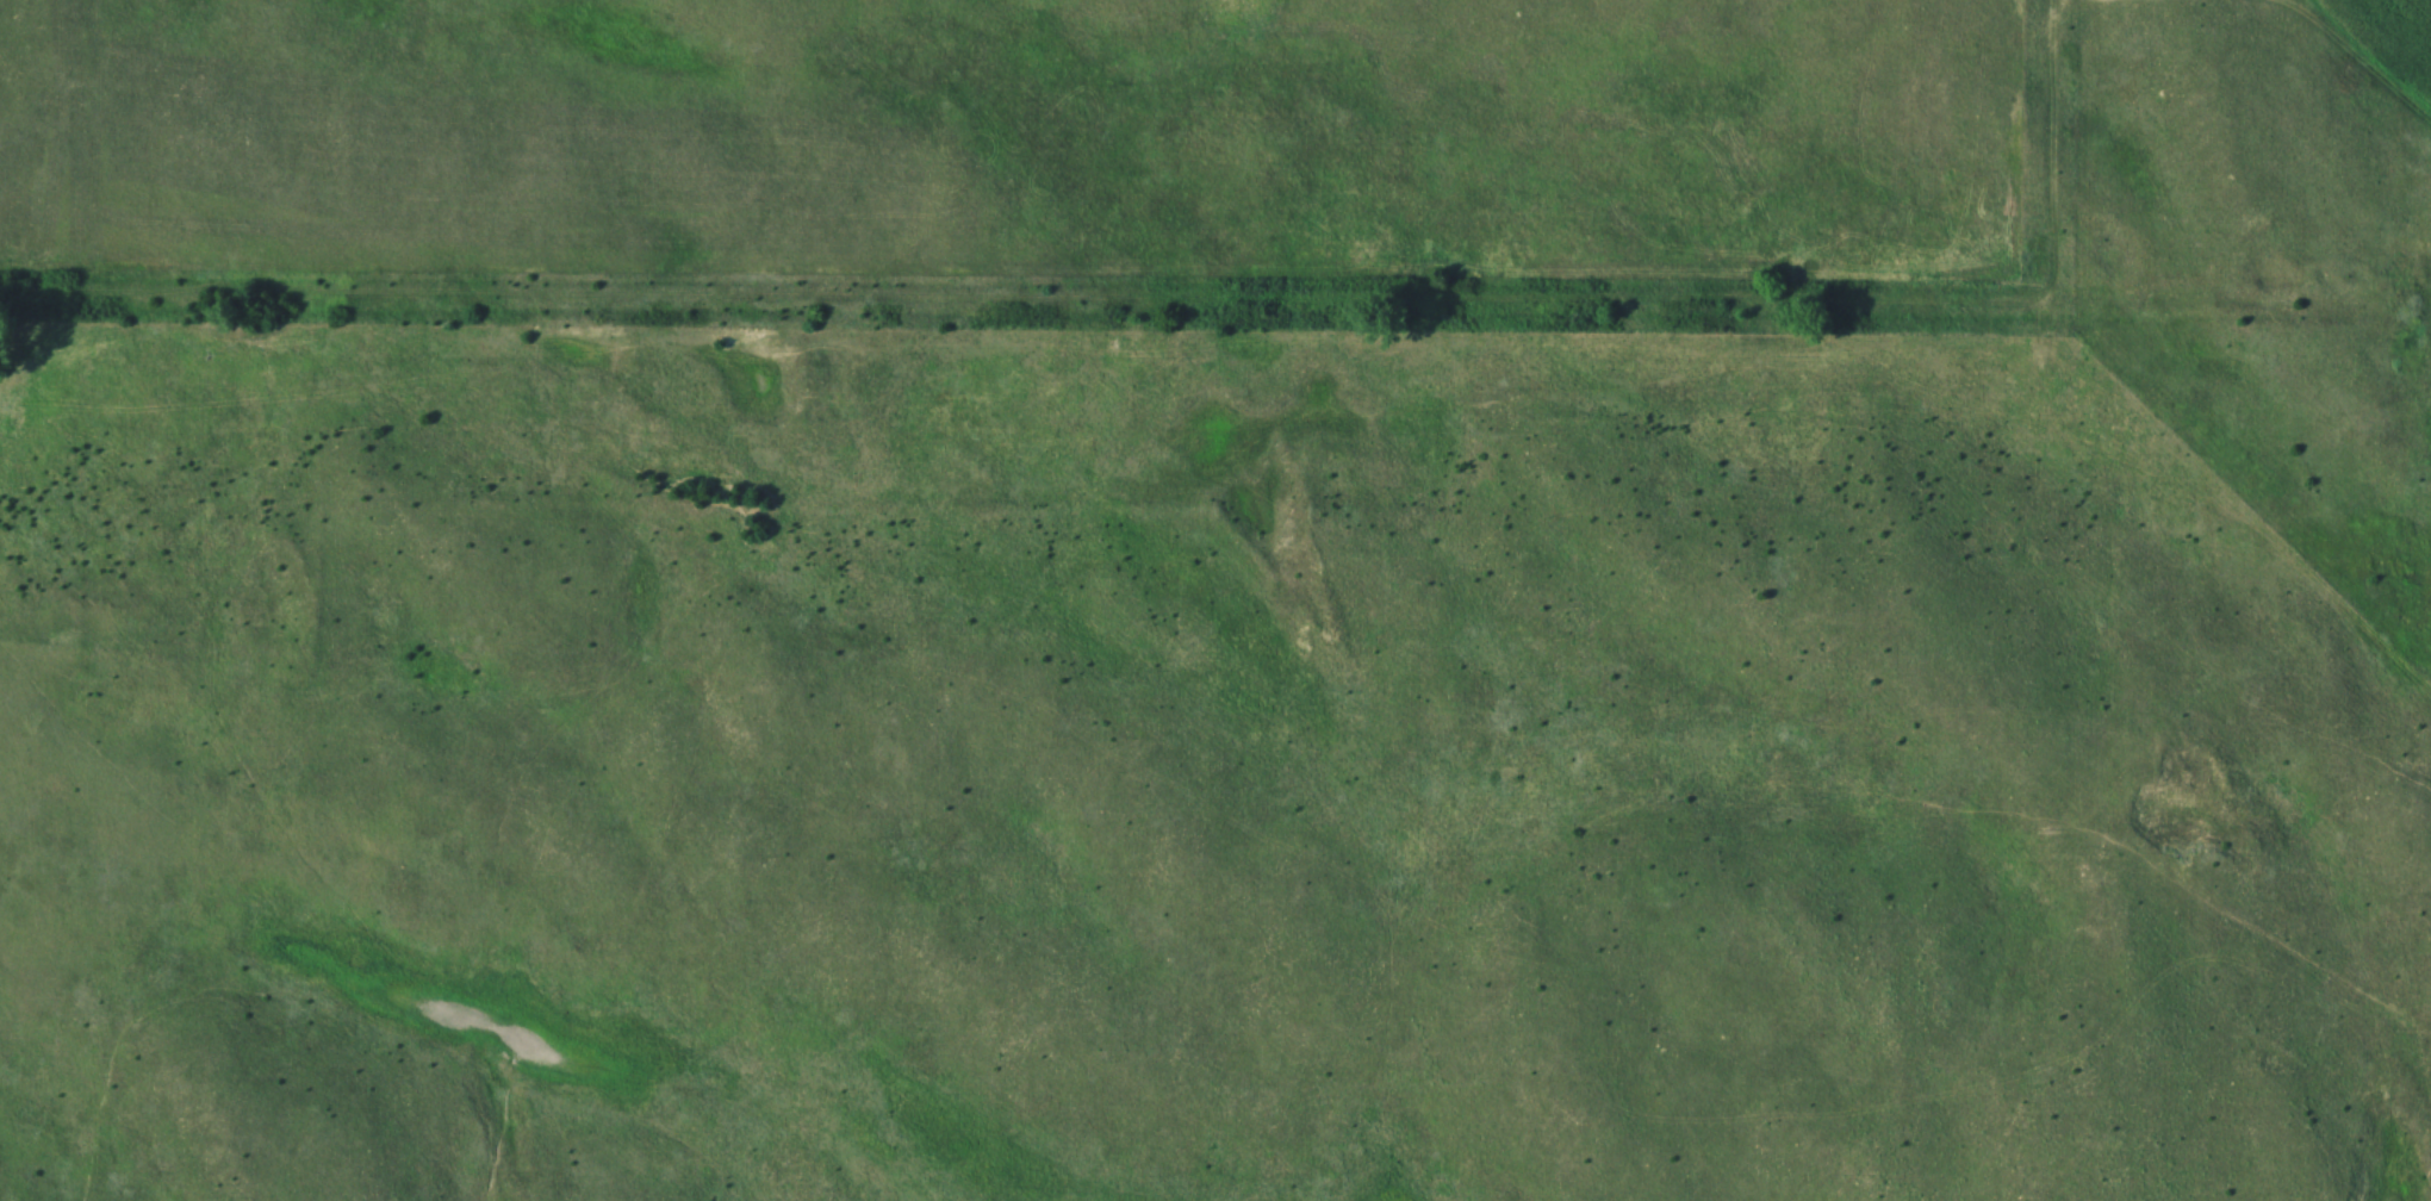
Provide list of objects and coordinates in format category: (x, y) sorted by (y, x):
road: (2073, 144)

